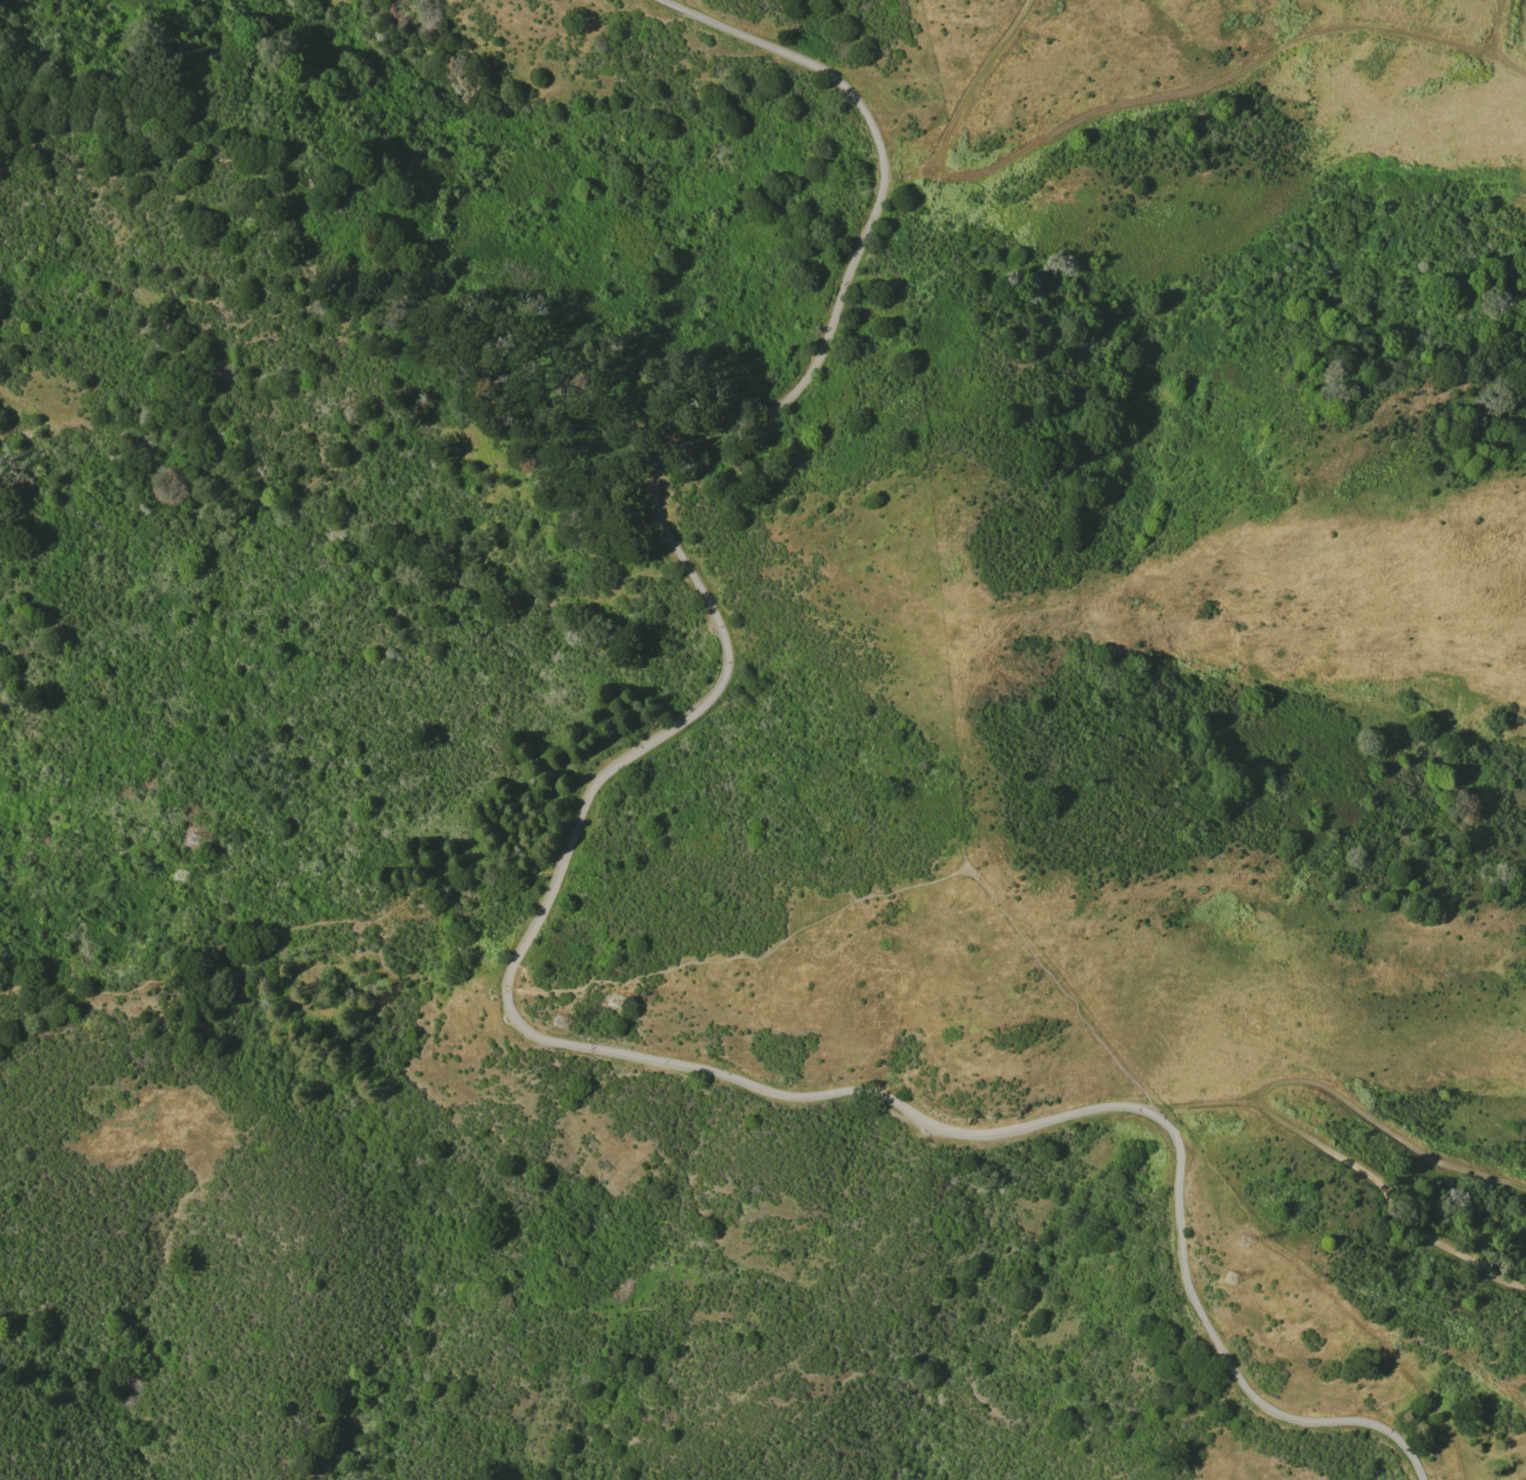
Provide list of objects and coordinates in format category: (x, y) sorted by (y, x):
road: (1496, 29)
road: (1133, 104)
road: (912, 169)
power tower: (201, 836)
power tower: (187, 872)
road: (880, 893)
road: (280, 929)
road: (531, 937)
power tower: (623, 998)
power tower: (566, 1019)
road: (1202, 1105)
road: (1382, 1128)
road: (1376, 1182)
power tower: (1250, 1241)
power tower: (1235, 1275)
road: (1509, 1275)

